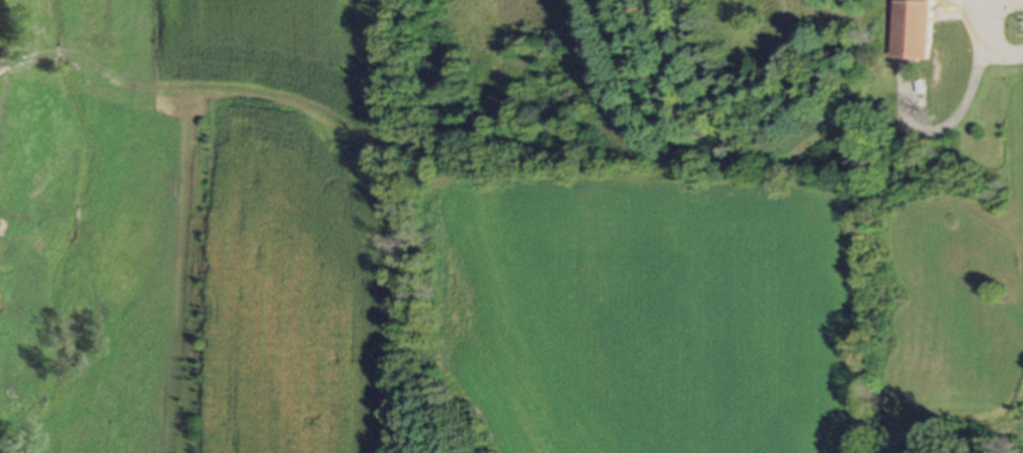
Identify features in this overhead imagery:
building: (912, 28)
road: (983, 31)
road: (76, 54)
road: (952, 123)

